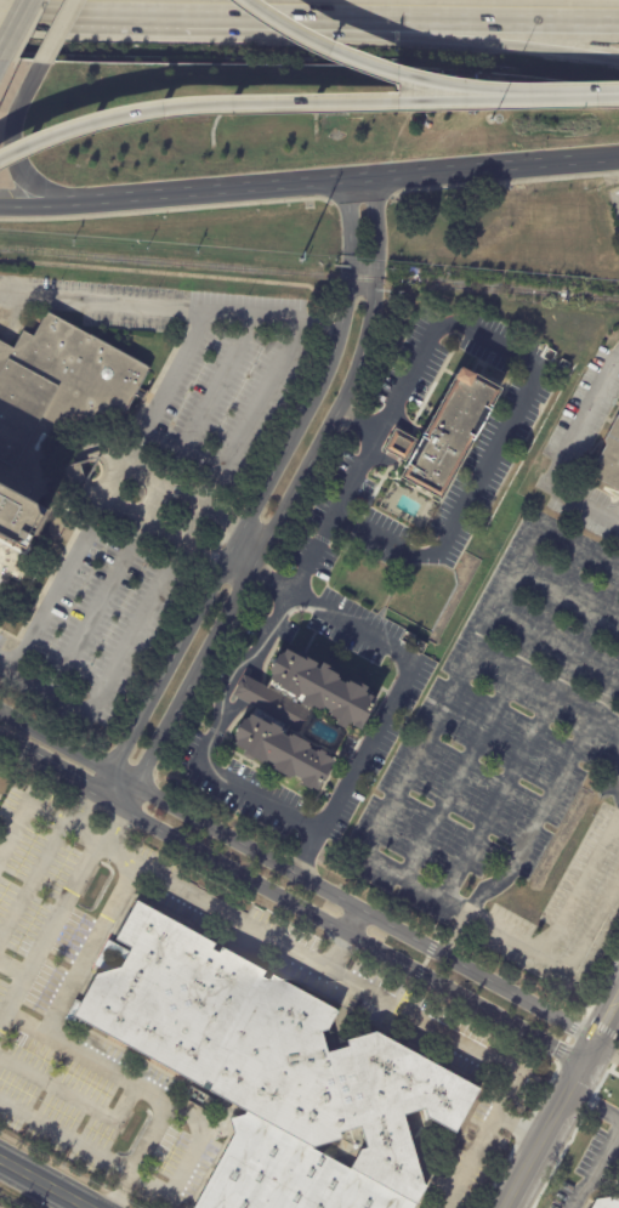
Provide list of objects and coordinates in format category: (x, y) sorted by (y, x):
road: (89, 12)
road: (8, 16)
road: (398, 16)
road: (55, 34)
road: (398, 36)
road: (374, 67)
road: (568, 97)
road: (254, 106)
road: (13, 146)
road: (342, 182)
road: (33, 202)
building: (420, 271)
railway: (308, 276)
road: (147, 310)
road: (500, 345)
building: (566, 364)
road: (161, 387)
building: (53, 407)
road: (357, 420)
building: (453, 431)
building: (402, 446)
road: (95, 448)
road: (568, 452)
building: (609, 461)
road: (117, 467)
road: (69, 477)
road: (96, 492)
road: (291, 492)
road: (257, 498)
road: (151, 504)
road: (197, 504)
road: (193, 515)
road: (174, 538)
building: (22, 568)
road: (58, 578)
road: (272, 622)
road: (256, 667)
road: (226, 681)
road: (45, 684)
road: (401, 686)
building: (324, 687)
road: (248, 691)
building: (273, 703)
road: (229, 713)
road: (8, 744)
road: (67, 748)
building: (284, 753)
road: (69, 779)
road: (234, 787)
road: (617, 787)
road: (130, 798)
road: (35, 813)
road: (79, 821)
road: (381, 821)
road: (112, 833)
road: (29, 878)
road: (364, 913)
road: (350, 920)
road: (44, 926)
road: (354, 937)
road: (333, 953)
road: (561, 962)
road: (10, 963)
road: (341, 986)
road: (604, 1051)
building: (277, 1073)
road: (74, 1096)
road: (562, 1100)
road: (594, 1101)
road: (197, 1140)
road: (136, 1155)
road: (595, 1170)
road: (40, 1185)
building: (609, 1203)

